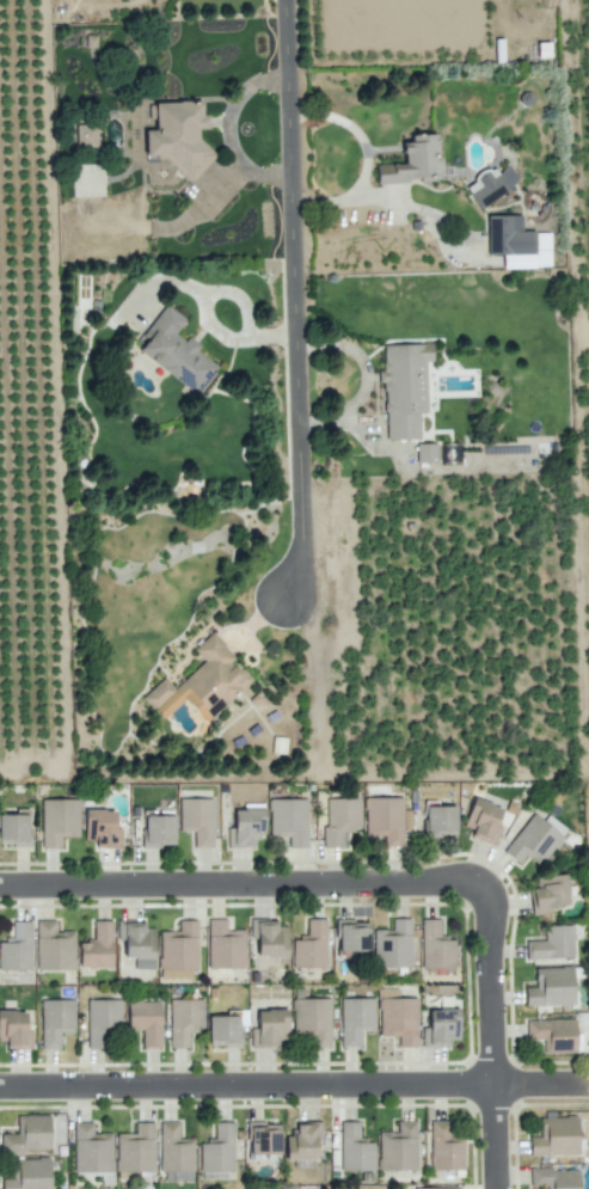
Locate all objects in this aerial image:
building: (86, 134)
building: (179, 136)
building: (412, 161)
building: (490, 184)
building: (517, 243)
road: (295, 301)
building: (174, 350)
building: (404, 387)
building: (425, 452)
building: (450, 453)
building: (202, 684)
building: (278, 744)
road: (294, 776)
building: (385, 819)
building: (197, 820)
building: (288, 820)
building: (483, 820)
building: (59, 821)
building: (340, 821)
building: (440, 821)
building: (245, 827)
building: (16, 828)
building: (102, 828)
building: (158, 831)
building: (535, 839)
road: (219, 884)
building: (548, 893)
building: (352, 936)
building: (268, 937)
building: (137, 942)
building: (552, 943)
building: (393, 944)
building: (225, 945)
building: (311, 945)
building: (435, 945)
building: (54, 946)
building: (98, 946)
building: (17, 948)
building: (178, 951)
building: (551, 987)
road: (495, 1013)
building: (398, 1018)
building: (102, 1019)
building: (184, 1019)
building: (355, 1019)
building: (55, 1021)
building: (146, 1021)
building: (311, 1022)
building: (269, 1025)
building: (440, 1026)
building: (14, 1030)
building: (223, 1030)
building: (553, 1034)
road: (294, 1085)
building: (27, 1134)
building: (556, 1136)
building: (263, 1138)
building: (302, 1144)
building: (446, 1146)
building: (398, 1147)
building: (91, 1148)
building: (135, 1148)
building: (174, 1148)
building: (355, 1148)
building: (217, 1150)
building: (29, 1173)
building: (556, 1178)
building: (435, 1188)

